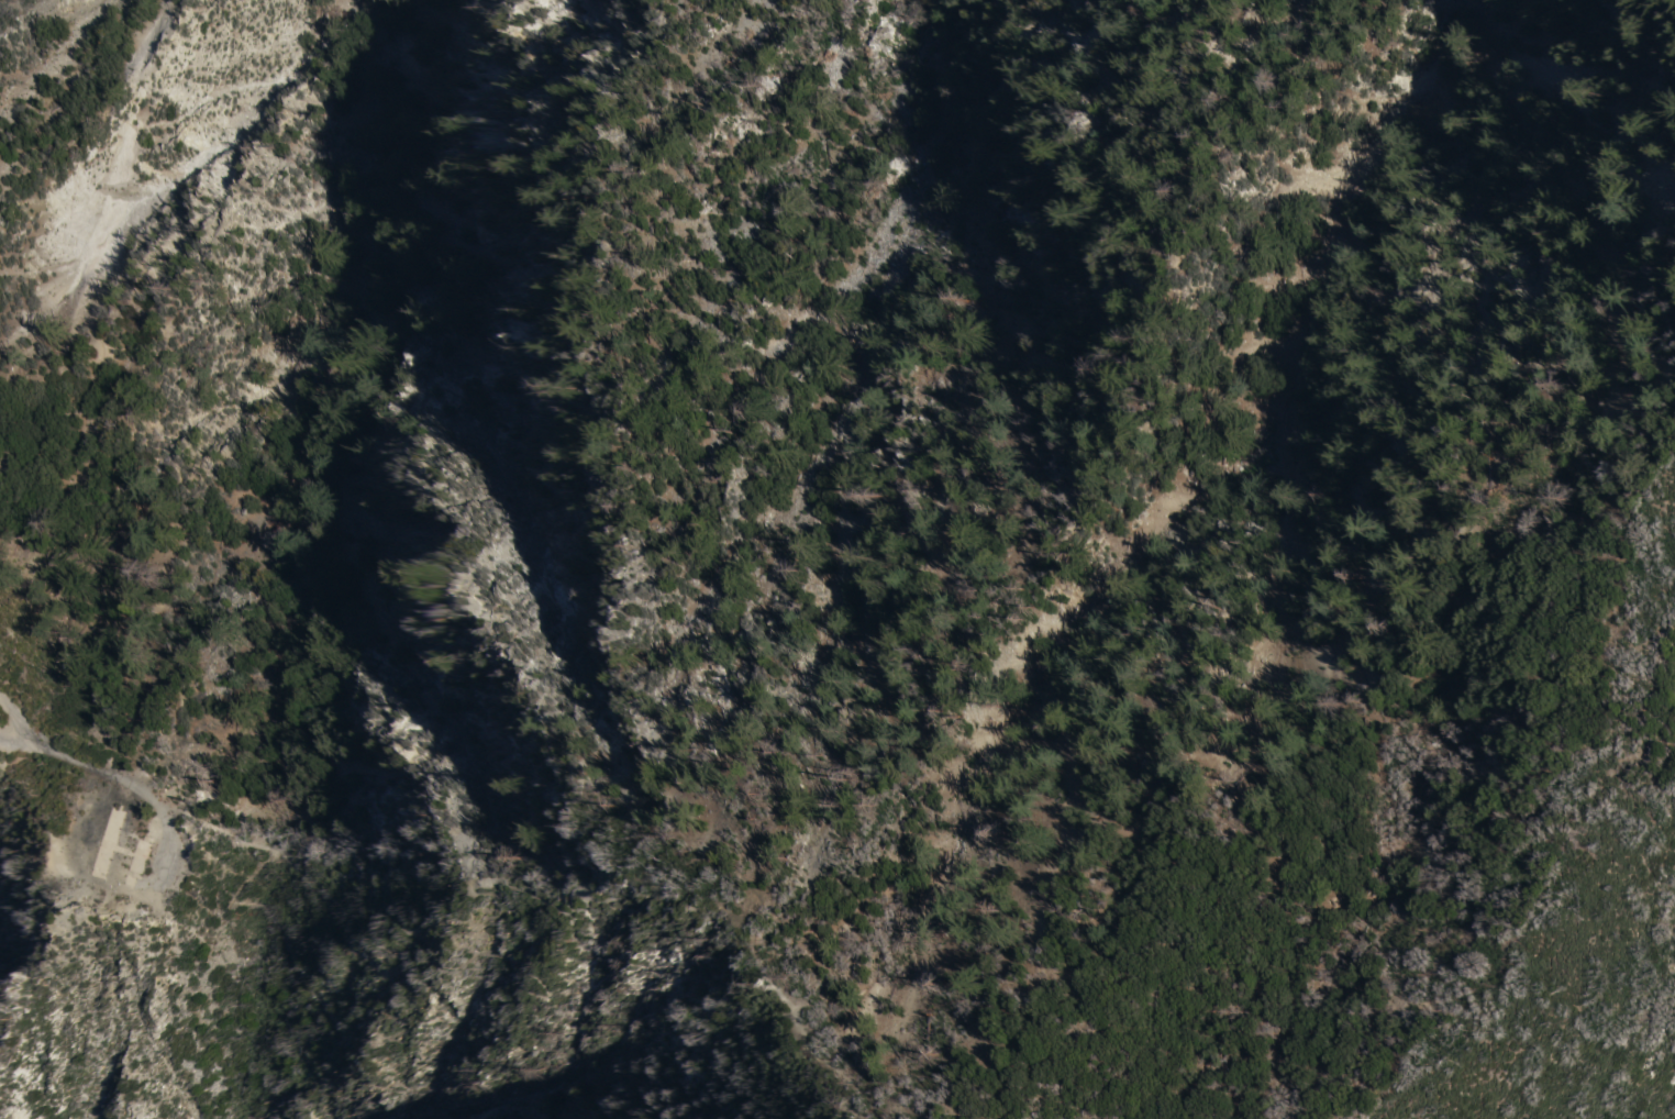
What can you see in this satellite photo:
road: (14, 722)
helipad: (122, 847)
road: (554, 987)
road: (309, 989)

